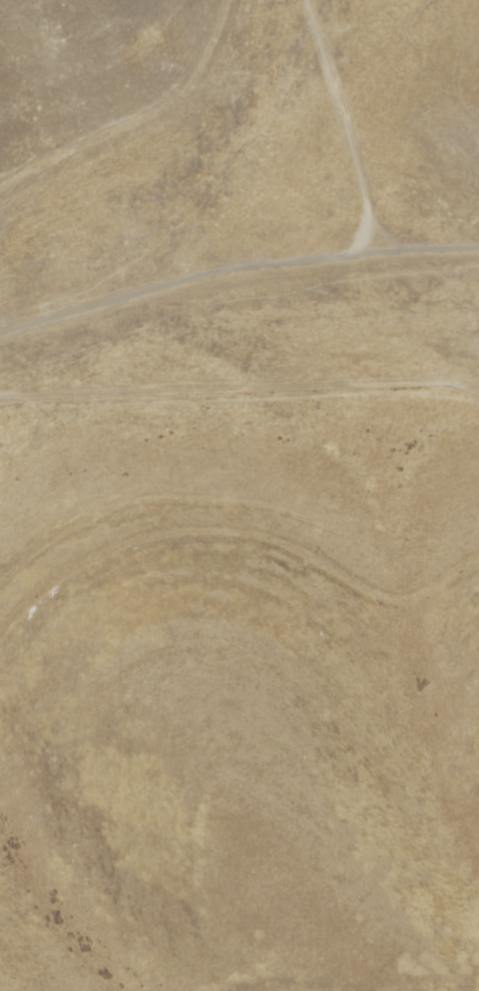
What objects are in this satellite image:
road: (310, 269)

